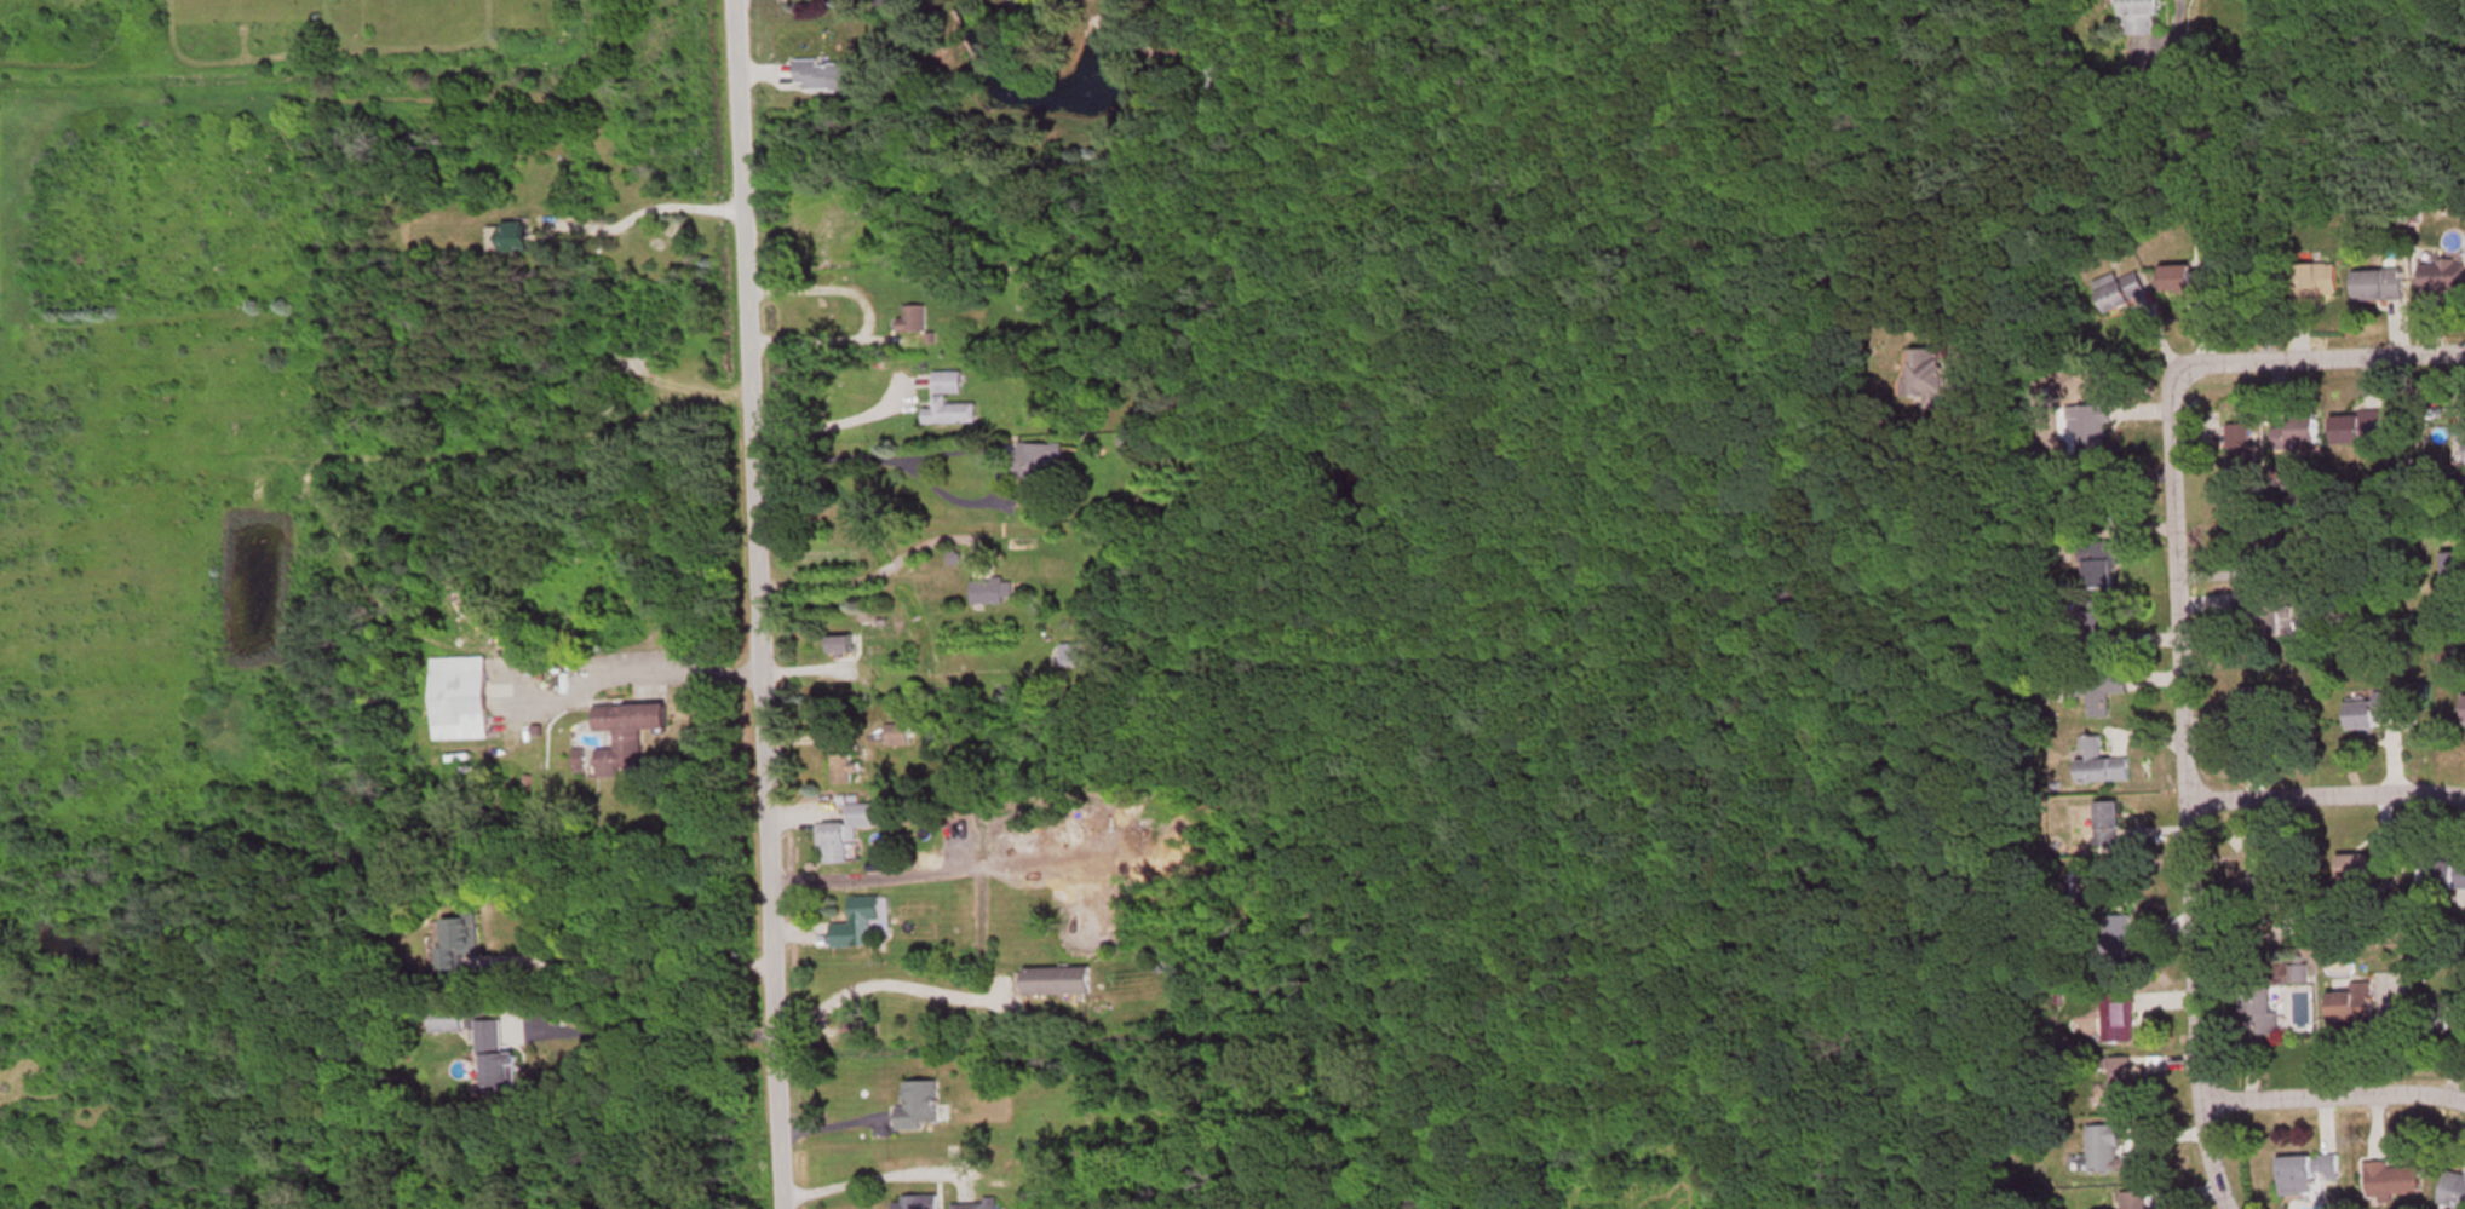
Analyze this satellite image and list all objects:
building: (2142, 17)
building: (828, 77)
road: (644, 206)
building: (510, 240)
building: (2443, 278)
building: (2331, 283)
building: (2385, 287)
building: (2121, 293)
building: (914, 321)
road: (2321, 358)
building: (1930, 379)
building: (942, 401)
building: (2092, 428)
building: (2464, 430)
building: (2298, 436)
building: (2245, 464)
building: (1040, 472)
building: (2253, 564)
building: (2101, 566)
building: (2455, 582)
building: (993, 594)
road: (754, 604)
building: (2099, 626)
building: (2308, 628)
building: (843, 647)
building: (2105, 692)
building: (461, 701)
building: (2260, 704)
building: (2378, 712)
road: (2179, 733)
building: (628, 736)
building: (898, 737)
building: (2098, 764)
building: (845, 767)
road: (2323, 795)
building: (846, 834)
building: (2358, 871)
building: (2446, 875)
building: (860, 927)
building: (461, 942)
building: (2300, 973)
building: (1059, 984)
building: (2389, 1001)
building: (2356, 1007)
road: (653, 1019)
building: (2120, 1020)
building: (452, 1025)
building: (498, 1063)
building: (2122, 1086)
road: (2329, 1093)
building: (921, 1109)
building: (2105, 1147)
road: (2210, 1153)
building: (2308, 1175)
building: (2392, 1182)
building: (2454, 1193)
building: (2136, 1201)
building: (920, 1203)
building: (976, 1207)

